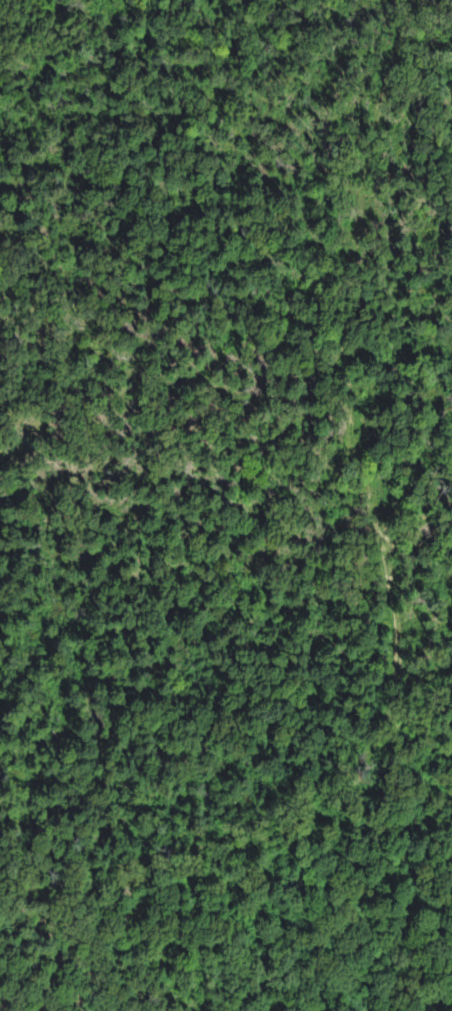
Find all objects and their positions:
road: (227, 890)

